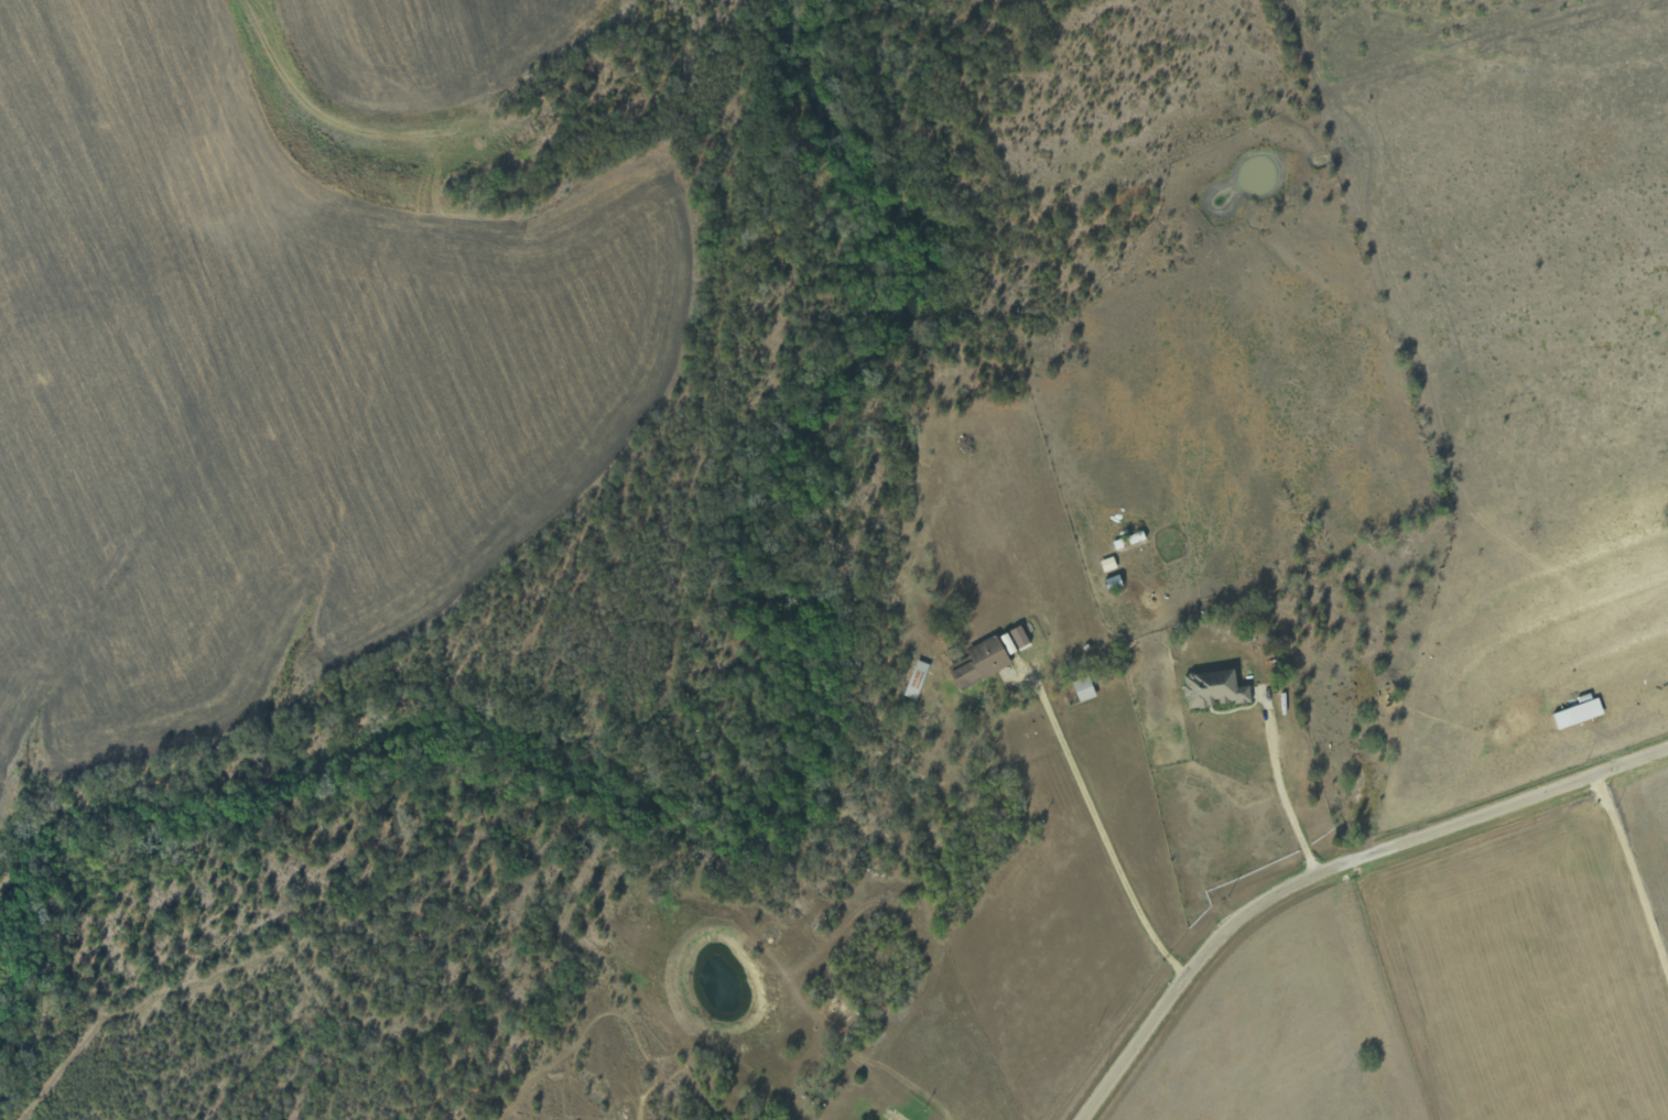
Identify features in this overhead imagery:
building: (1015, 639)
building: (979, 662)
building: (1084, 688)
building: (1214, 688)
building: (1579, 713)
road: (1282, 798)
road: (1102, 830)
road: (1329, 868)
road: (1632, 873)

